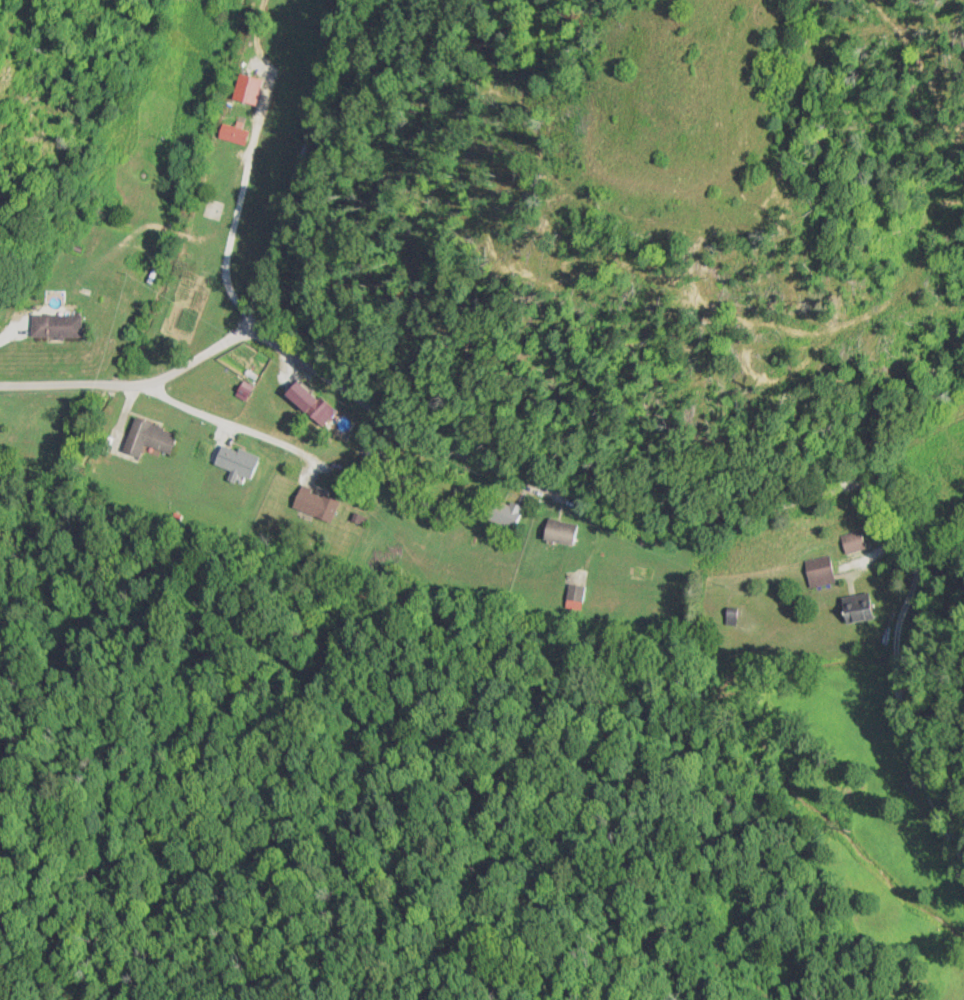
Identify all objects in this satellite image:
building: (233, 134)
road: (296, 163)
building: (55, 326)
road: (245, 328)
building: (301, 398)
building: (149, 439)
building: (236, 461)
road: (514, 473)
building: (315, 503)
building: (503, 513)
building: (558, 532)
building: (852, 542)
building: (818, 572)
building: (575, 595)
building: (731, 617)

